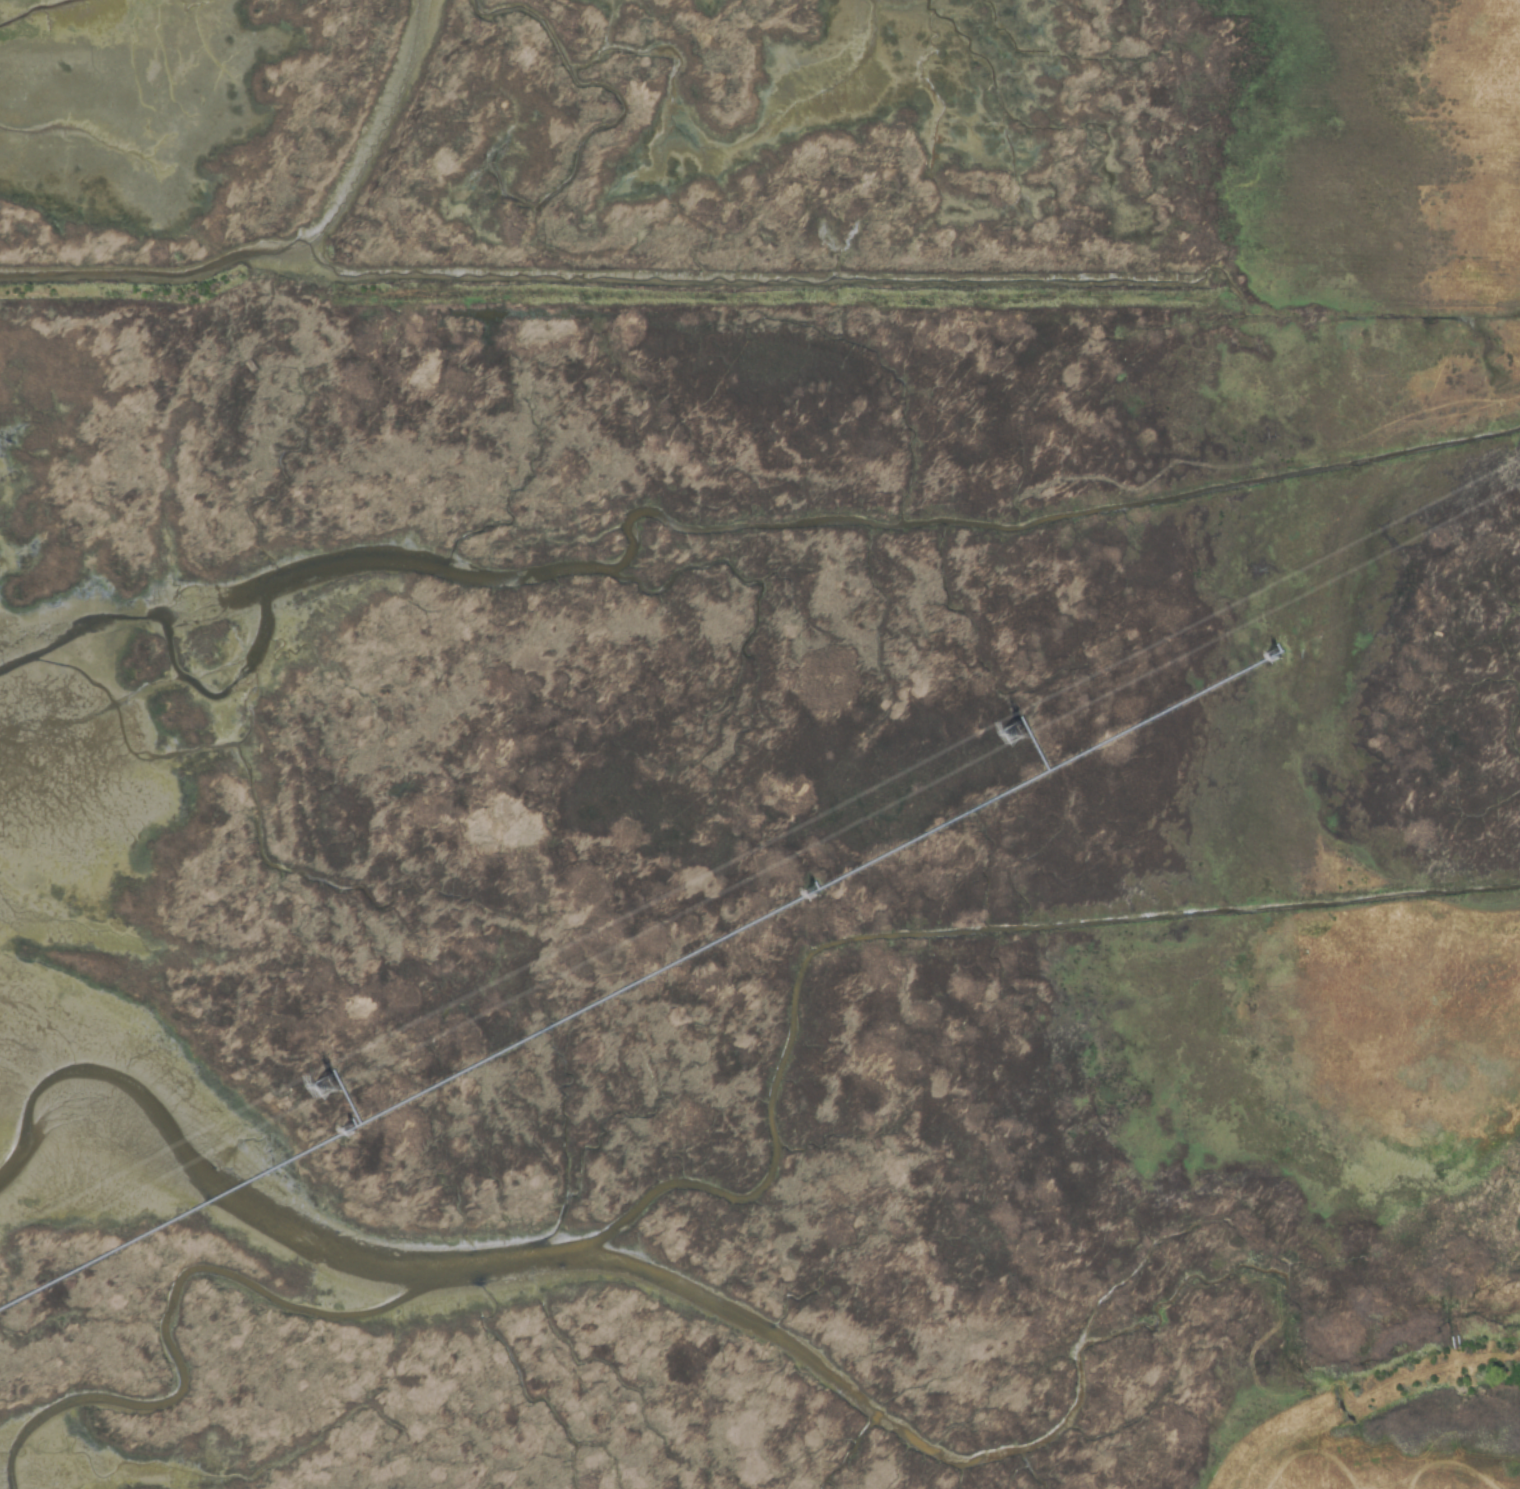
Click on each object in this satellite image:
power tower: (1272, 656)
power tower: (1015, 734)
power tower: (810, 893)
power tower: (327, 1087)
power tower: (348, 1130)

